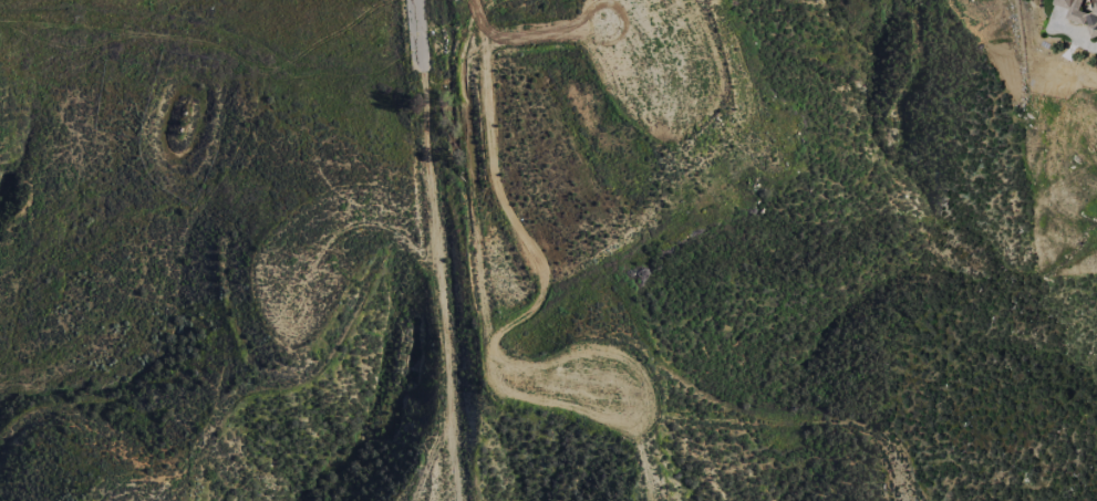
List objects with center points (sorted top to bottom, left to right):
road: (439, 250)

